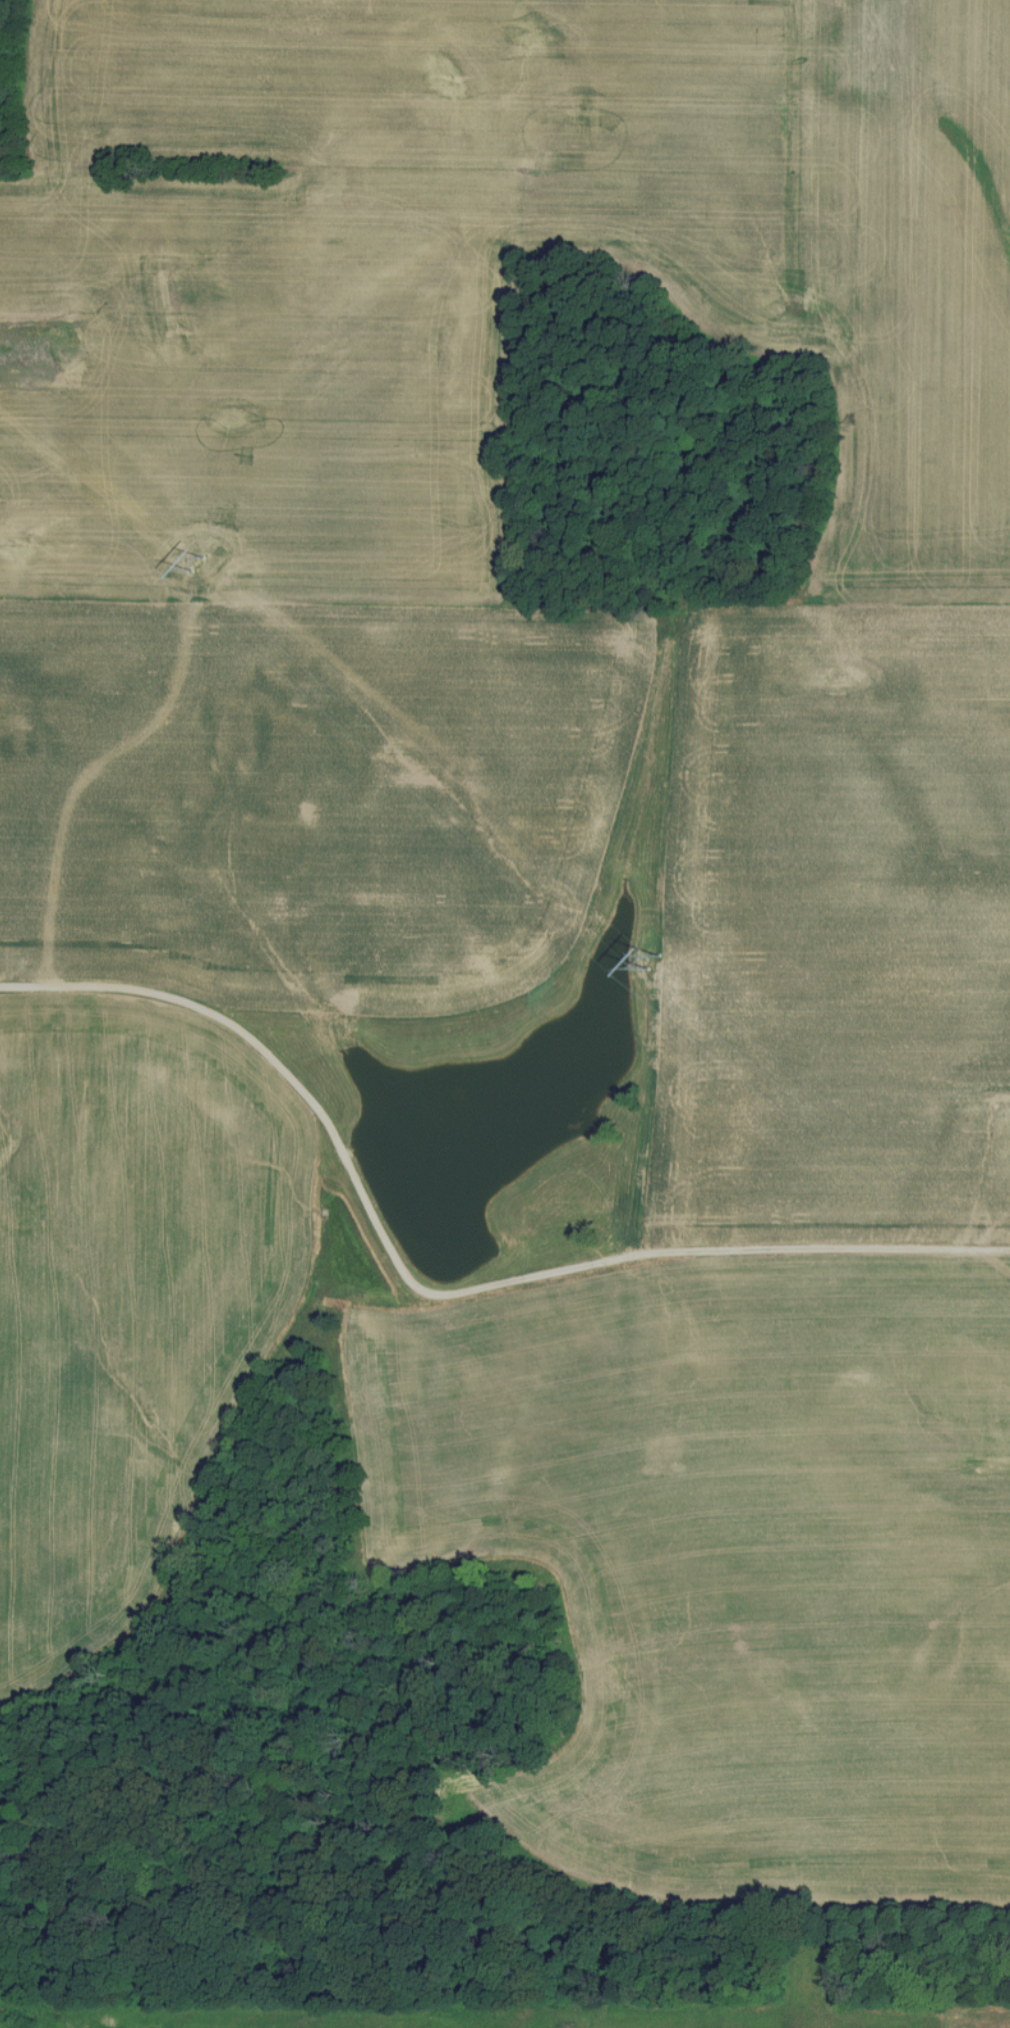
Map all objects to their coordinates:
power tower: (197, 571)
power tower: (650, 963)
road: (363, 1193)
building: (662, 1451)

